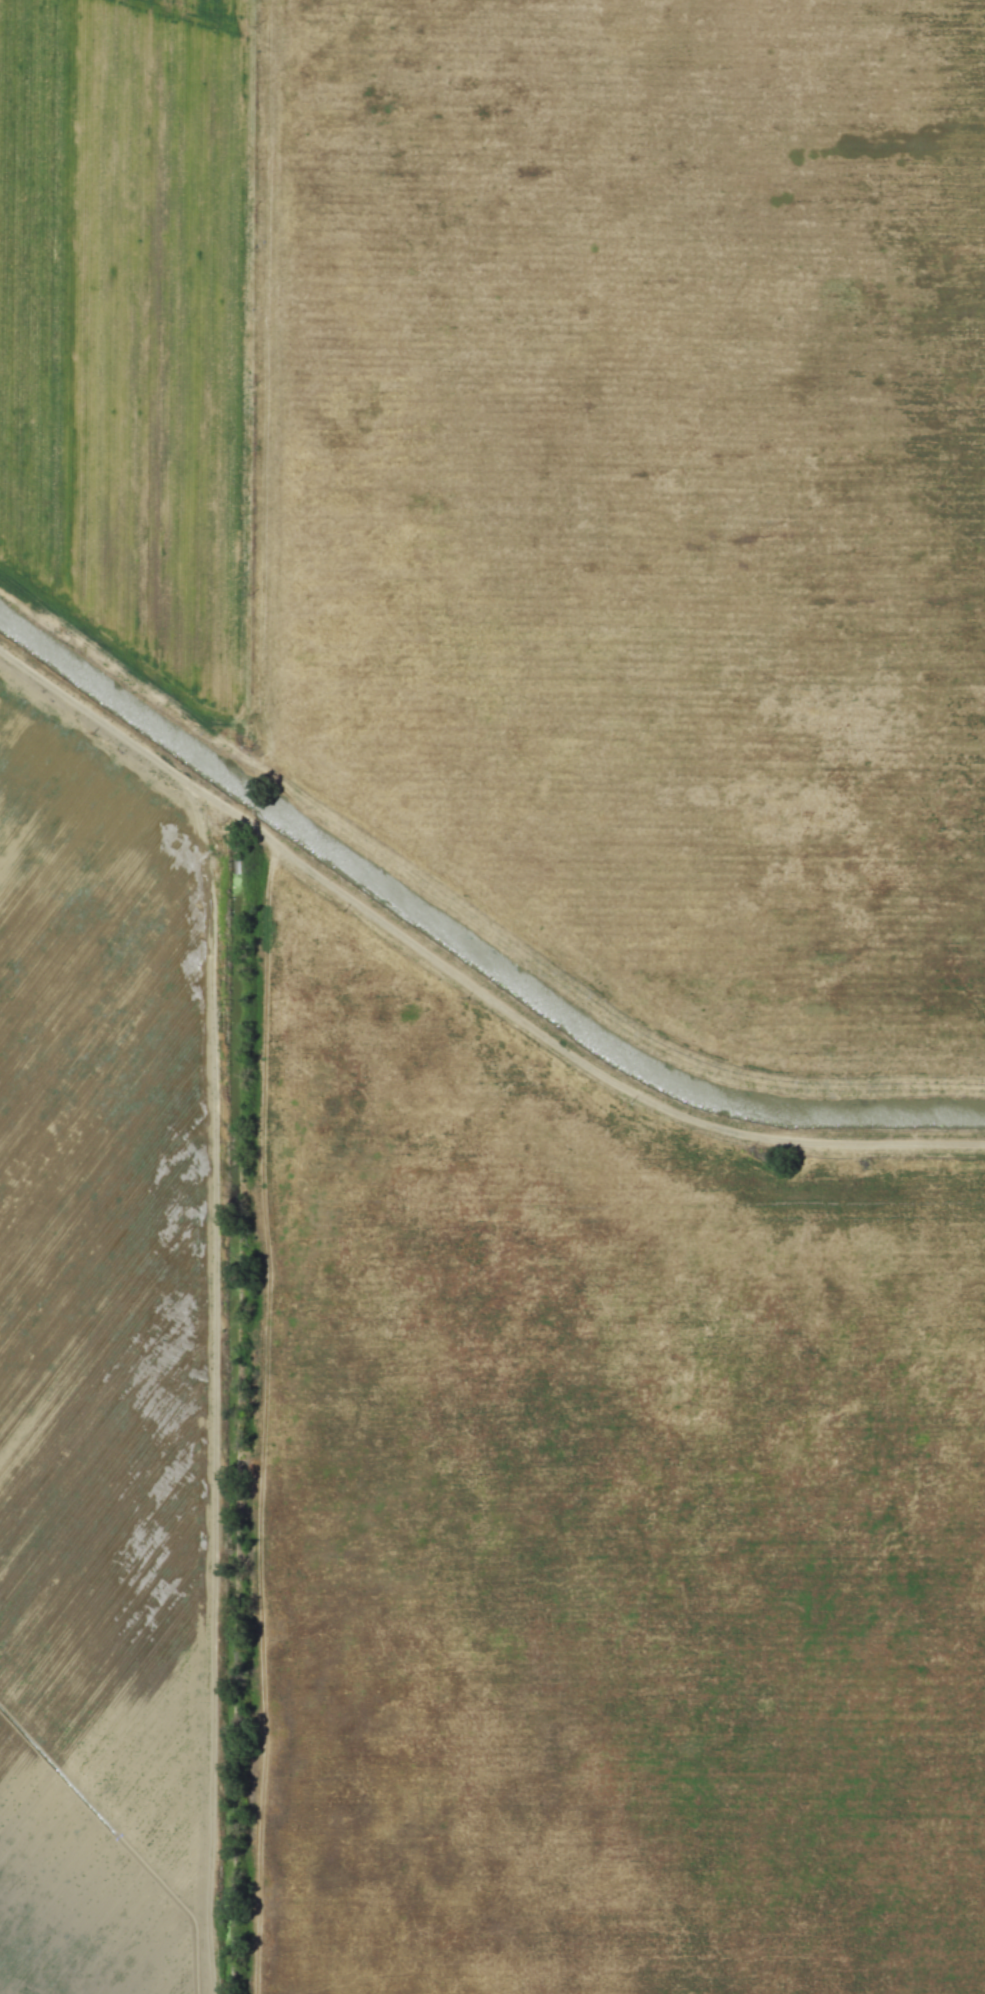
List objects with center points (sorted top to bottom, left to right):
crop: (134, 336)
crop: (642, 498)
crop: (113, 1355)

